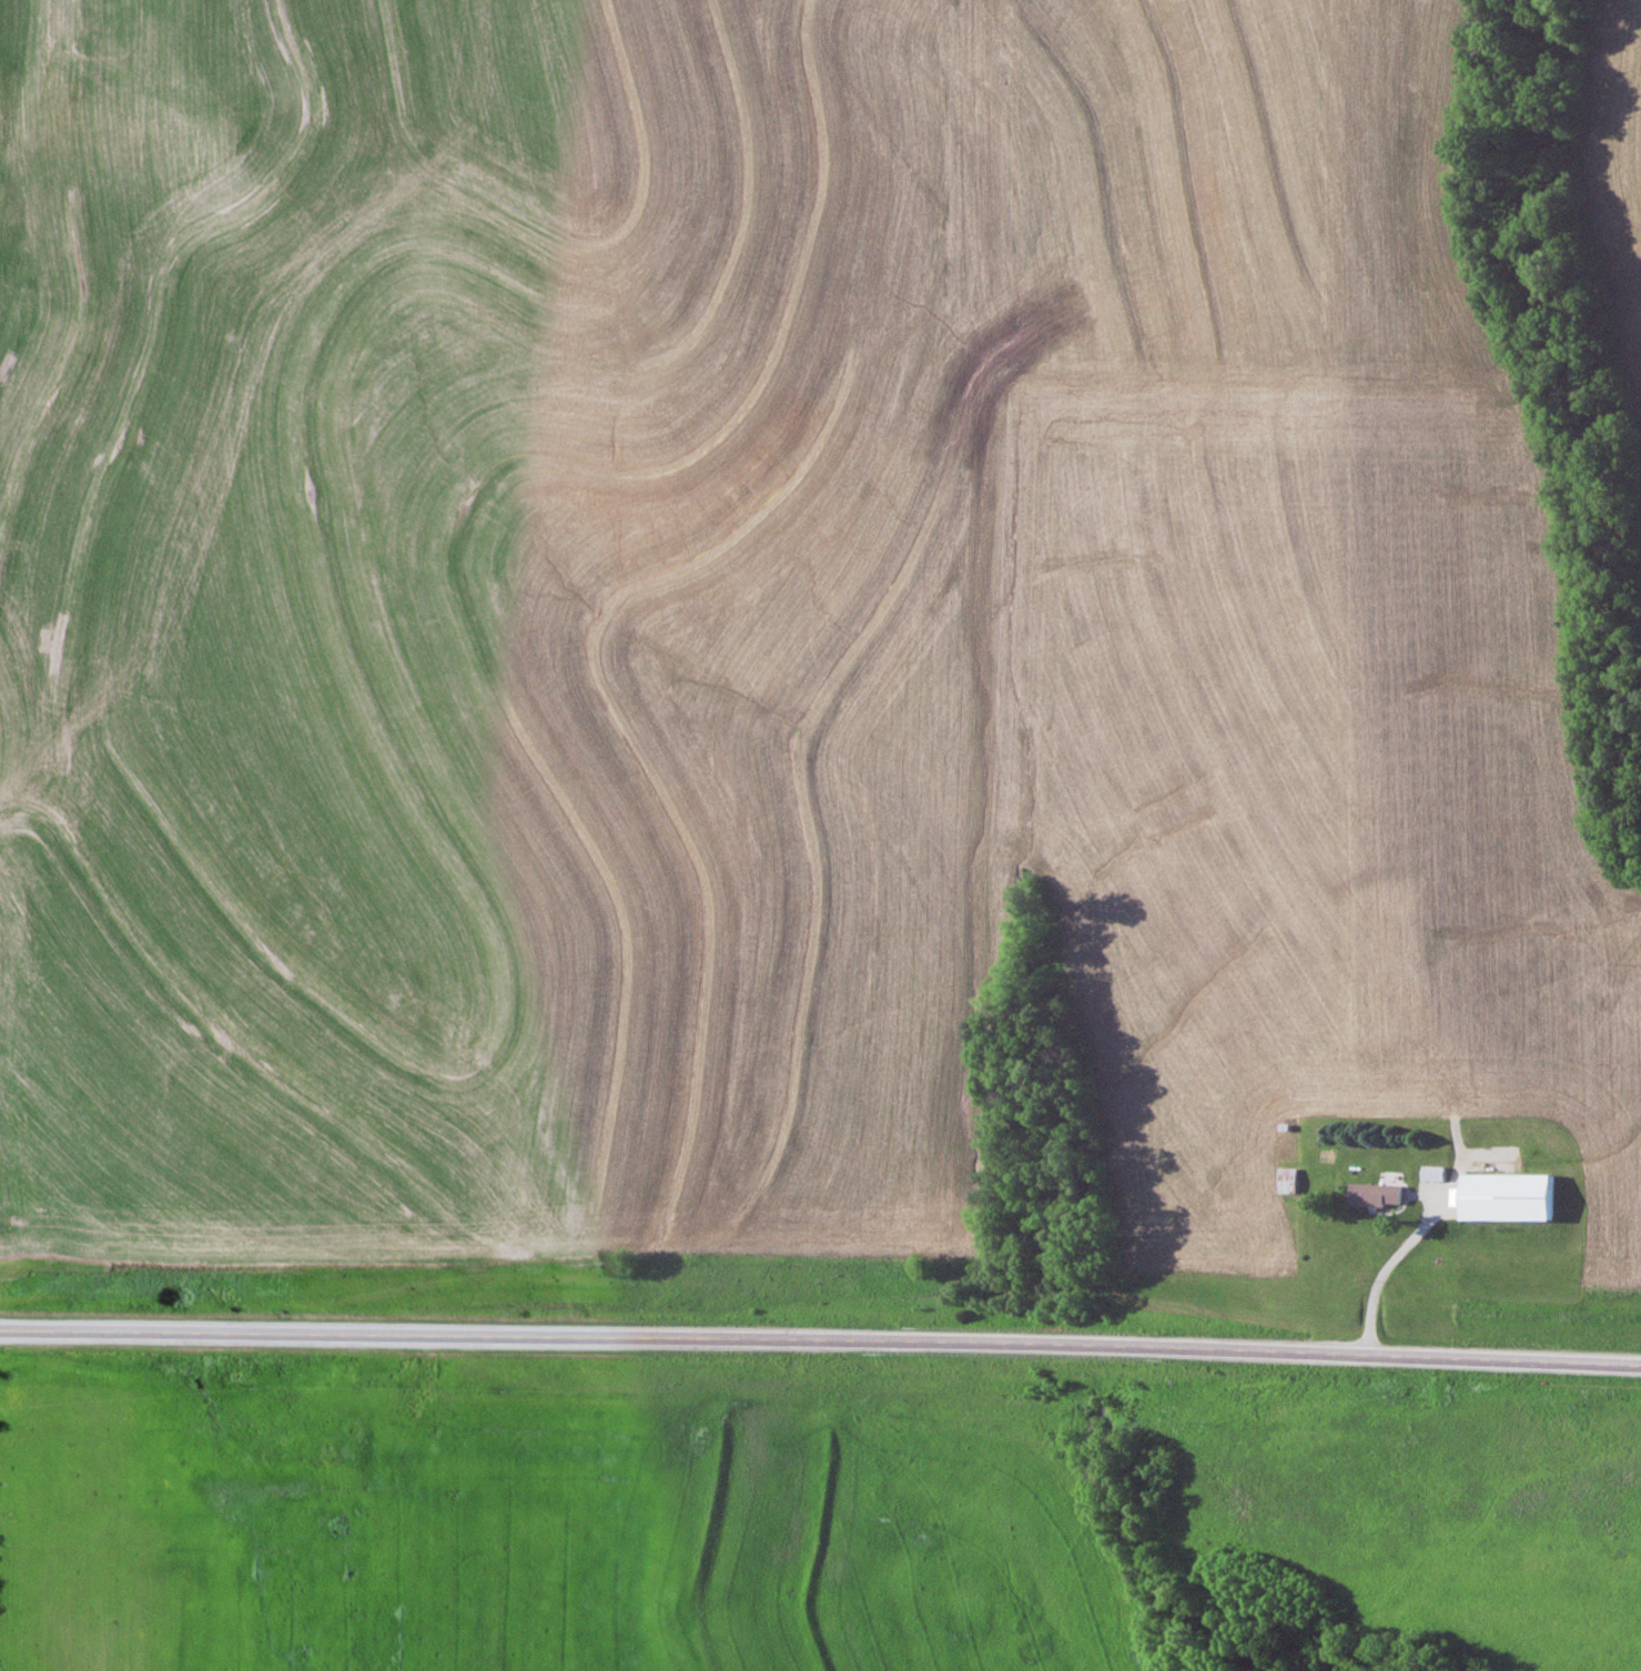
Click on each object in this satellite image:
building: (1434, 1173)
building: (1288, 1181)
building: (1368, 1194)
building: (1508, 1196)
road: (820, 1355)

